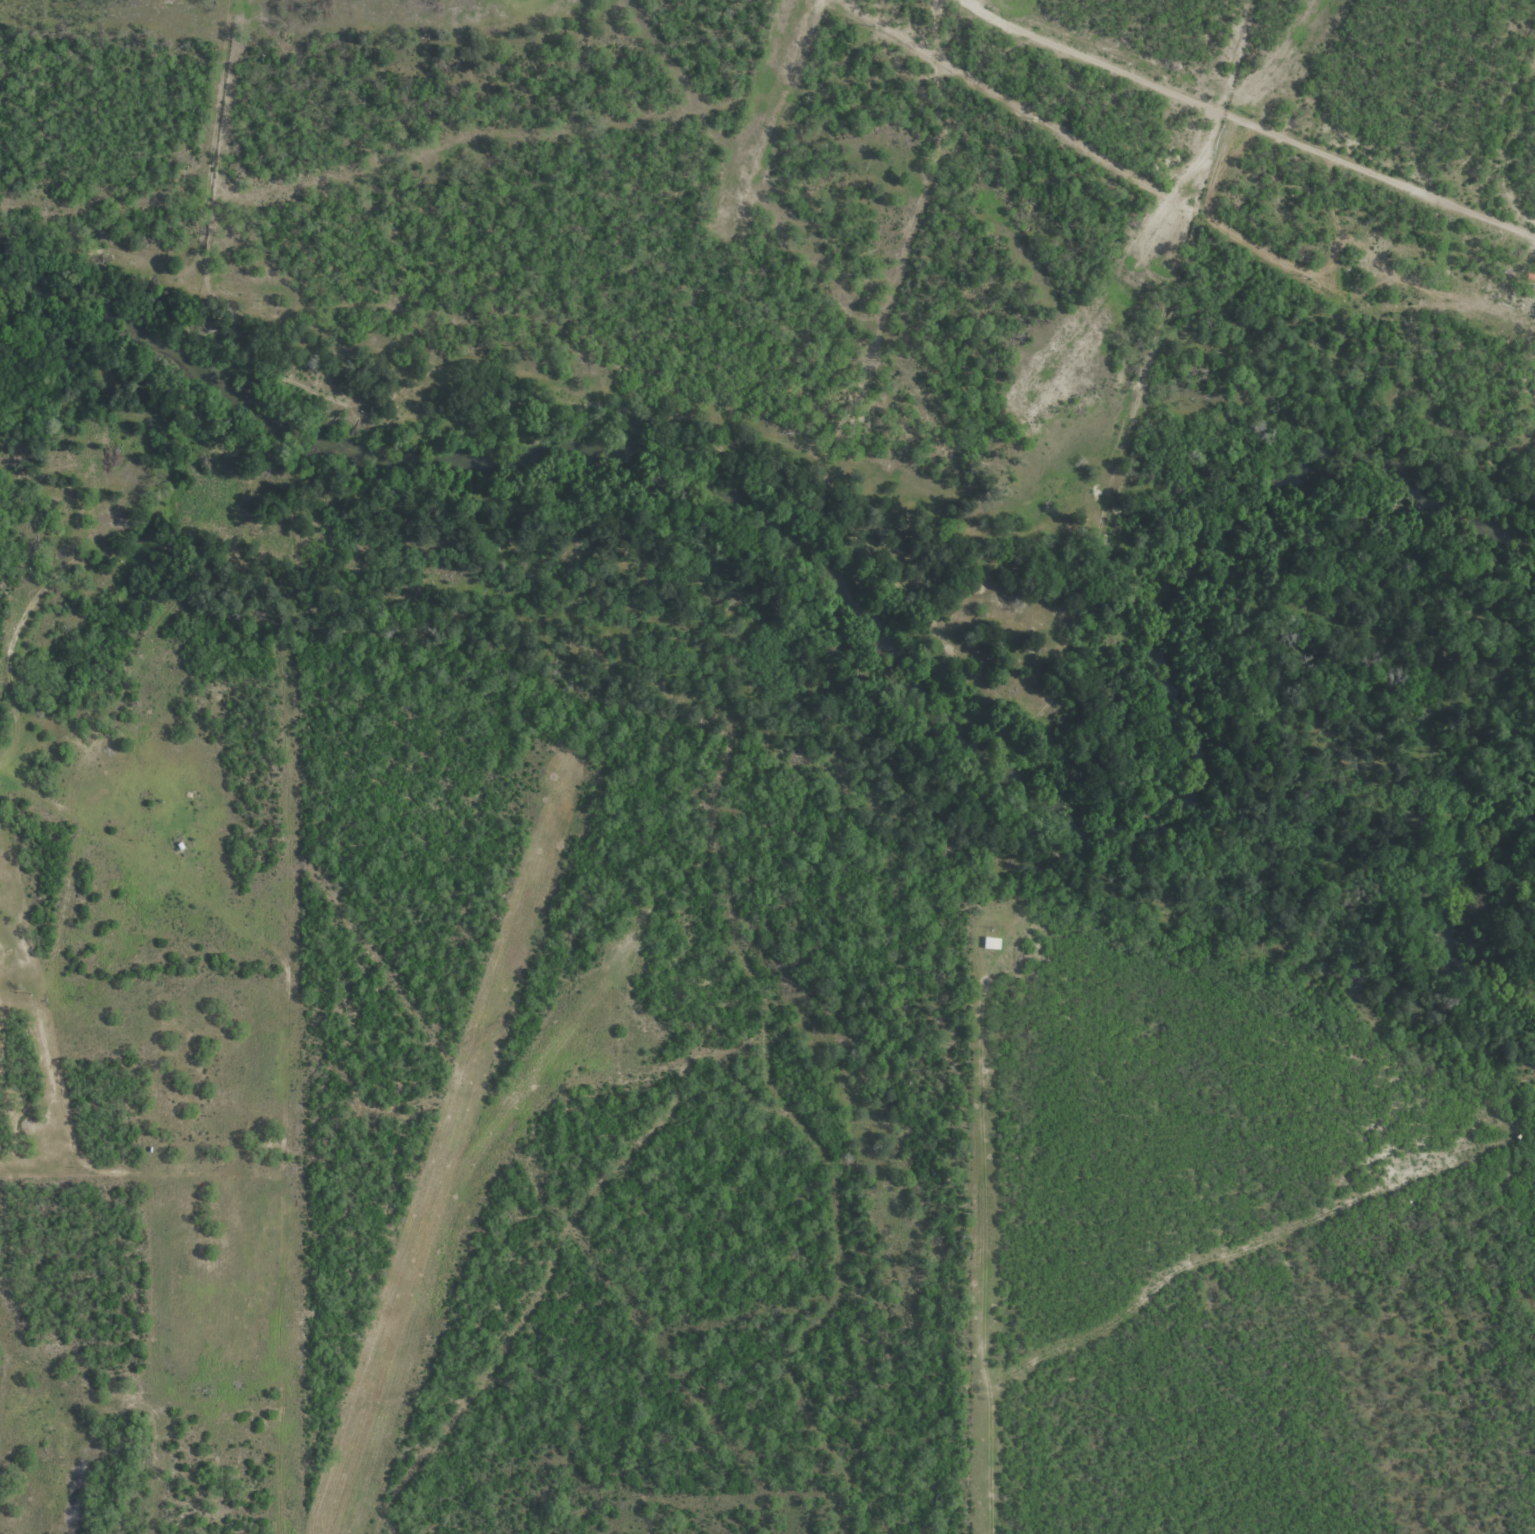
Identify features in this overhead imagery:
road: (1246, 120)
building: (1529, 275)
river: (904, 653)
river: (1452, 906)
building: (988, 943)

